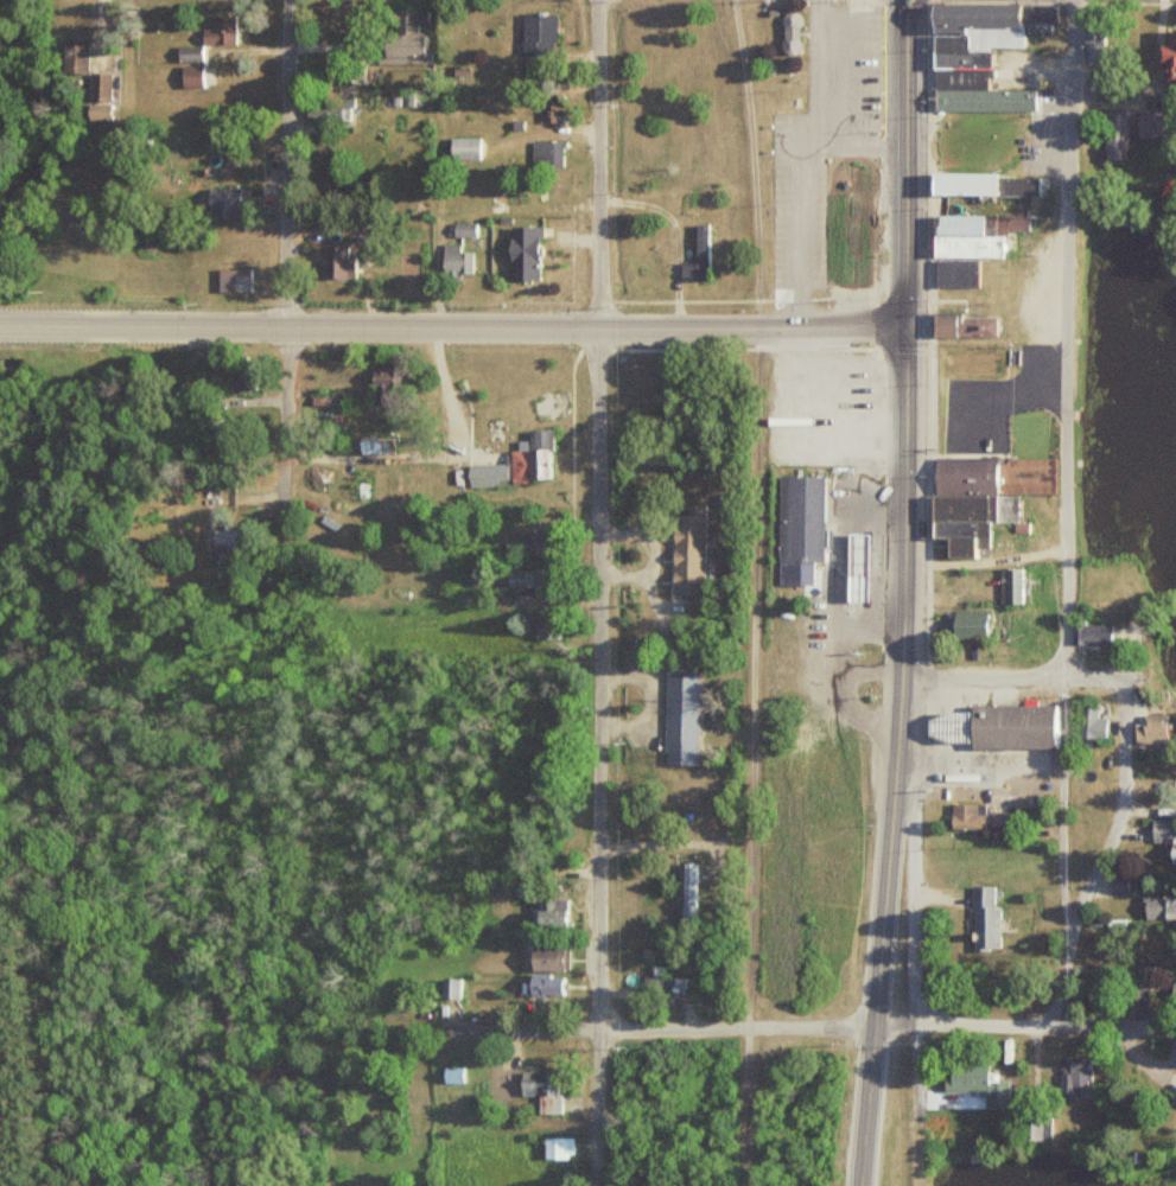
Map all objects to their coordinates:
building: (218, 32)
building: (788, 34)
building: (538, 38)
building: (400, 50)
building: (187, 55)
building: (1094, 55)
building: (977, 56)
building: (1168, 59)
parking lot: (851, 63)
building: (190, 72)
road: (815, 72)
road: (854, 72)
building: (89, 78)
building: (329, 110)
building: (1151, 125)
building: (1117, 132)
building: (463, 151)
road: (795, 181)
building: (981, 186)
parking lot: (796, 200)
building: (225, 203)
building: (462, 231)
building: (972, 236)
building: (521, 255)
building: (697, 259)
building: (452, 261)
building: (336, 264)
building: (954, 275)
building: (236, 281)
road: (287, 311)
road: (452, 327)
building: (961, 327)
road: (1064, 338)
building: (381, 390)
road: (795, 441)
building: (373, 446)
building: (530, 458)
building: (485, 474)
building: (961, 503)
building: (799, 525)
building: (536, 543)
building: (853, 551)
building: (686, 555)
building: (523, 581)
road: (597, 588)
road: (752, 592)
road: (901, 593)
building: (967, 625)
building: (1091, 633)
road: (1011, 677)
building: (951, 725)
building: (1013, 725)
building: (1089, 725)
building: (1150, 731)
road: (986, 778)
road: (1063, 805)
building: (970, 814)
building: (1161, 840)
road: (1104, 852)
building: (1113, 884)
building: (686, 891)
road: (913, 898)
building: (1157, 907)
building: (549, 912)
building: (983, 918)
building: (542, 956)
building: (659, 978)
building: (542, 986)
building: (447, 988)
road: (809, 1027)
building: (974, 1083)
building: (539, 1089)
building: (555, 1148)

